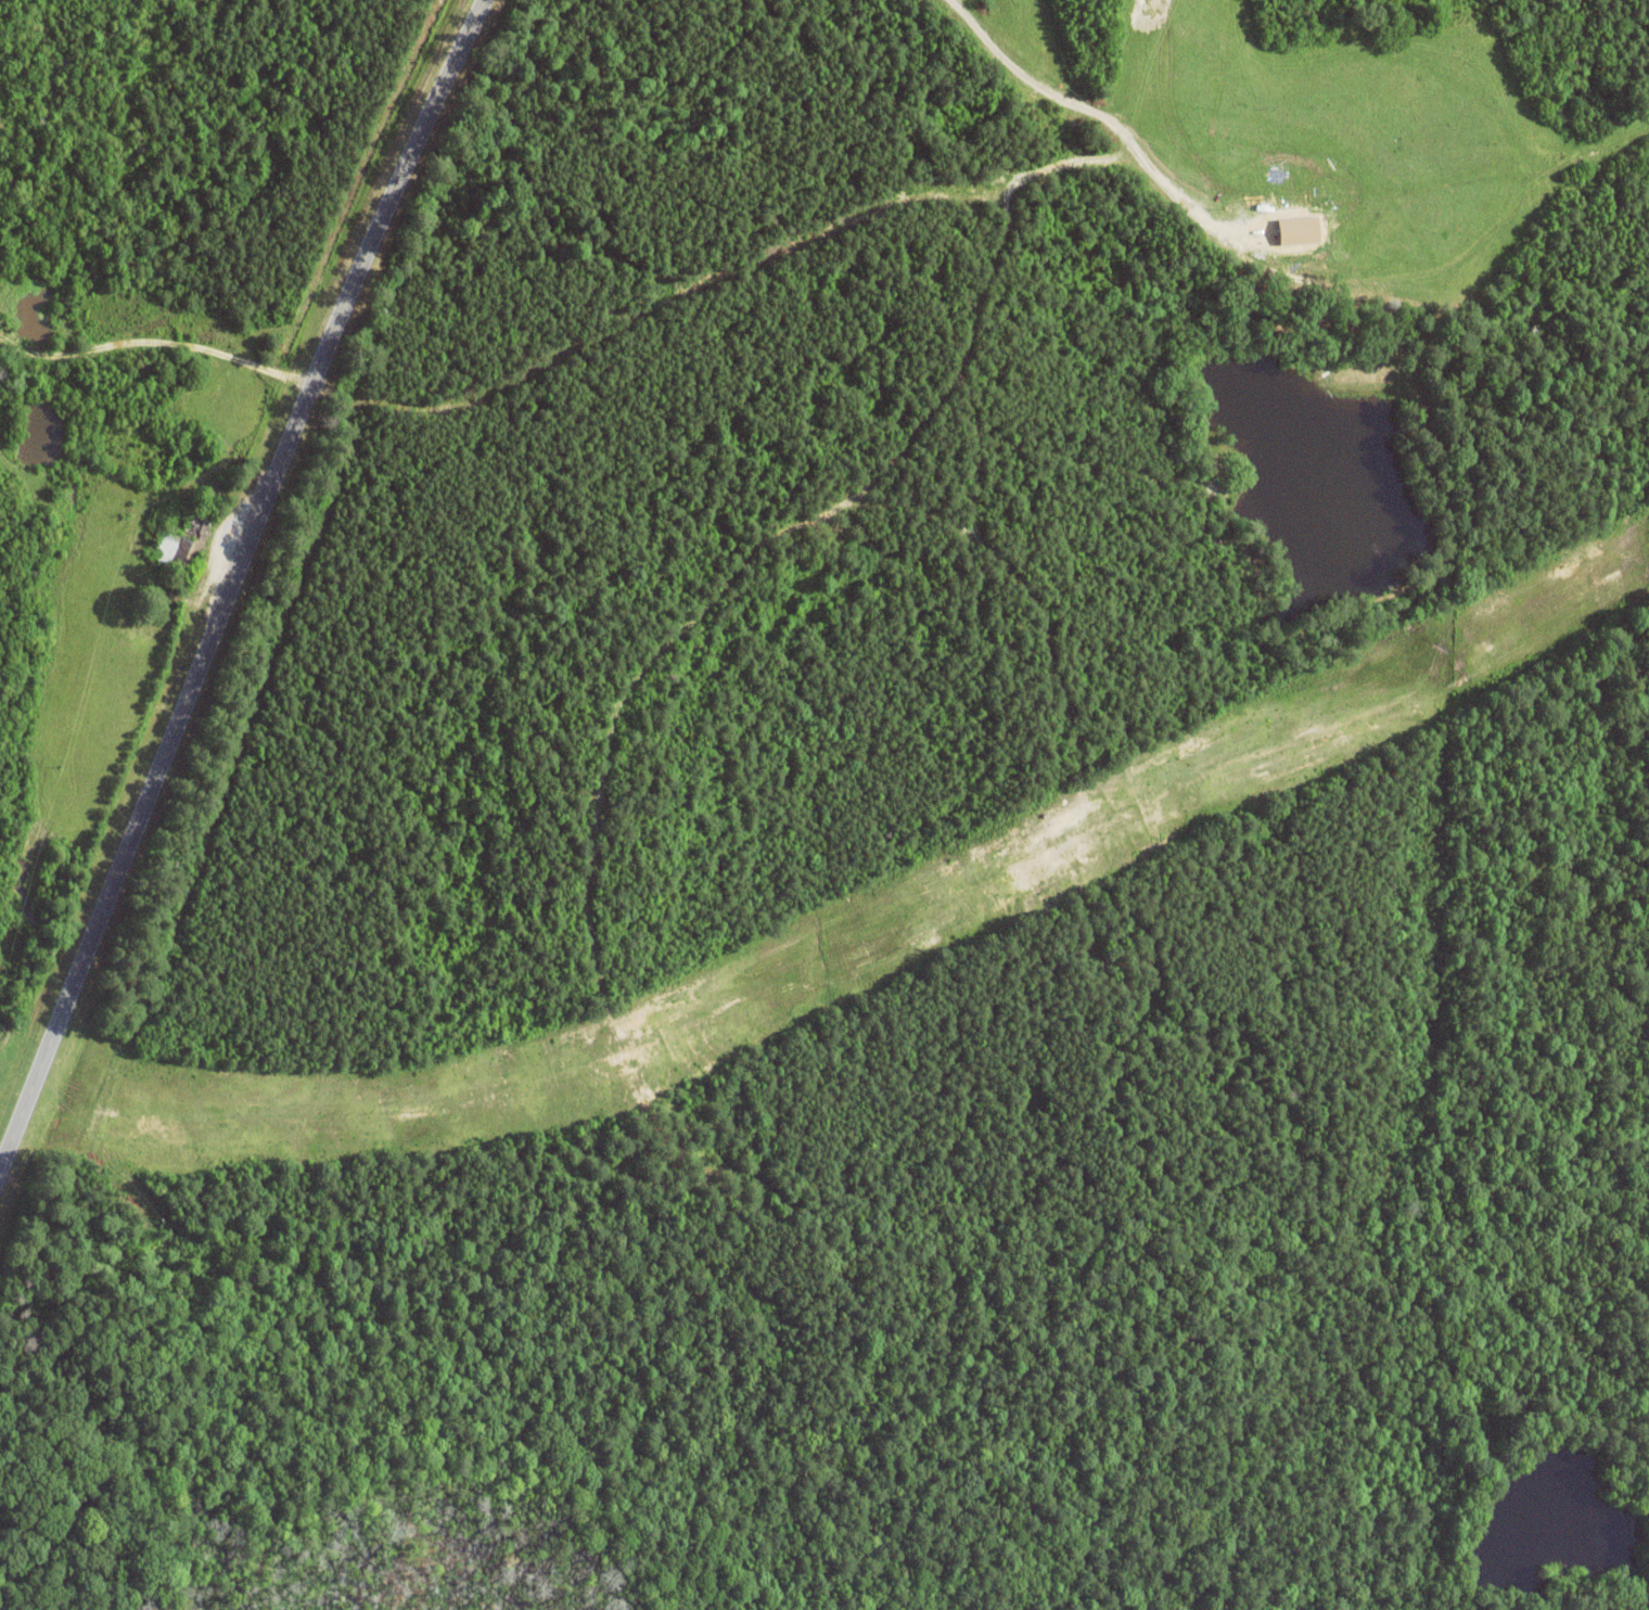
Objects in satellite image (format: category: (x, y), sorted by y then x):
building: (175, 549)
road: (231, 576)

